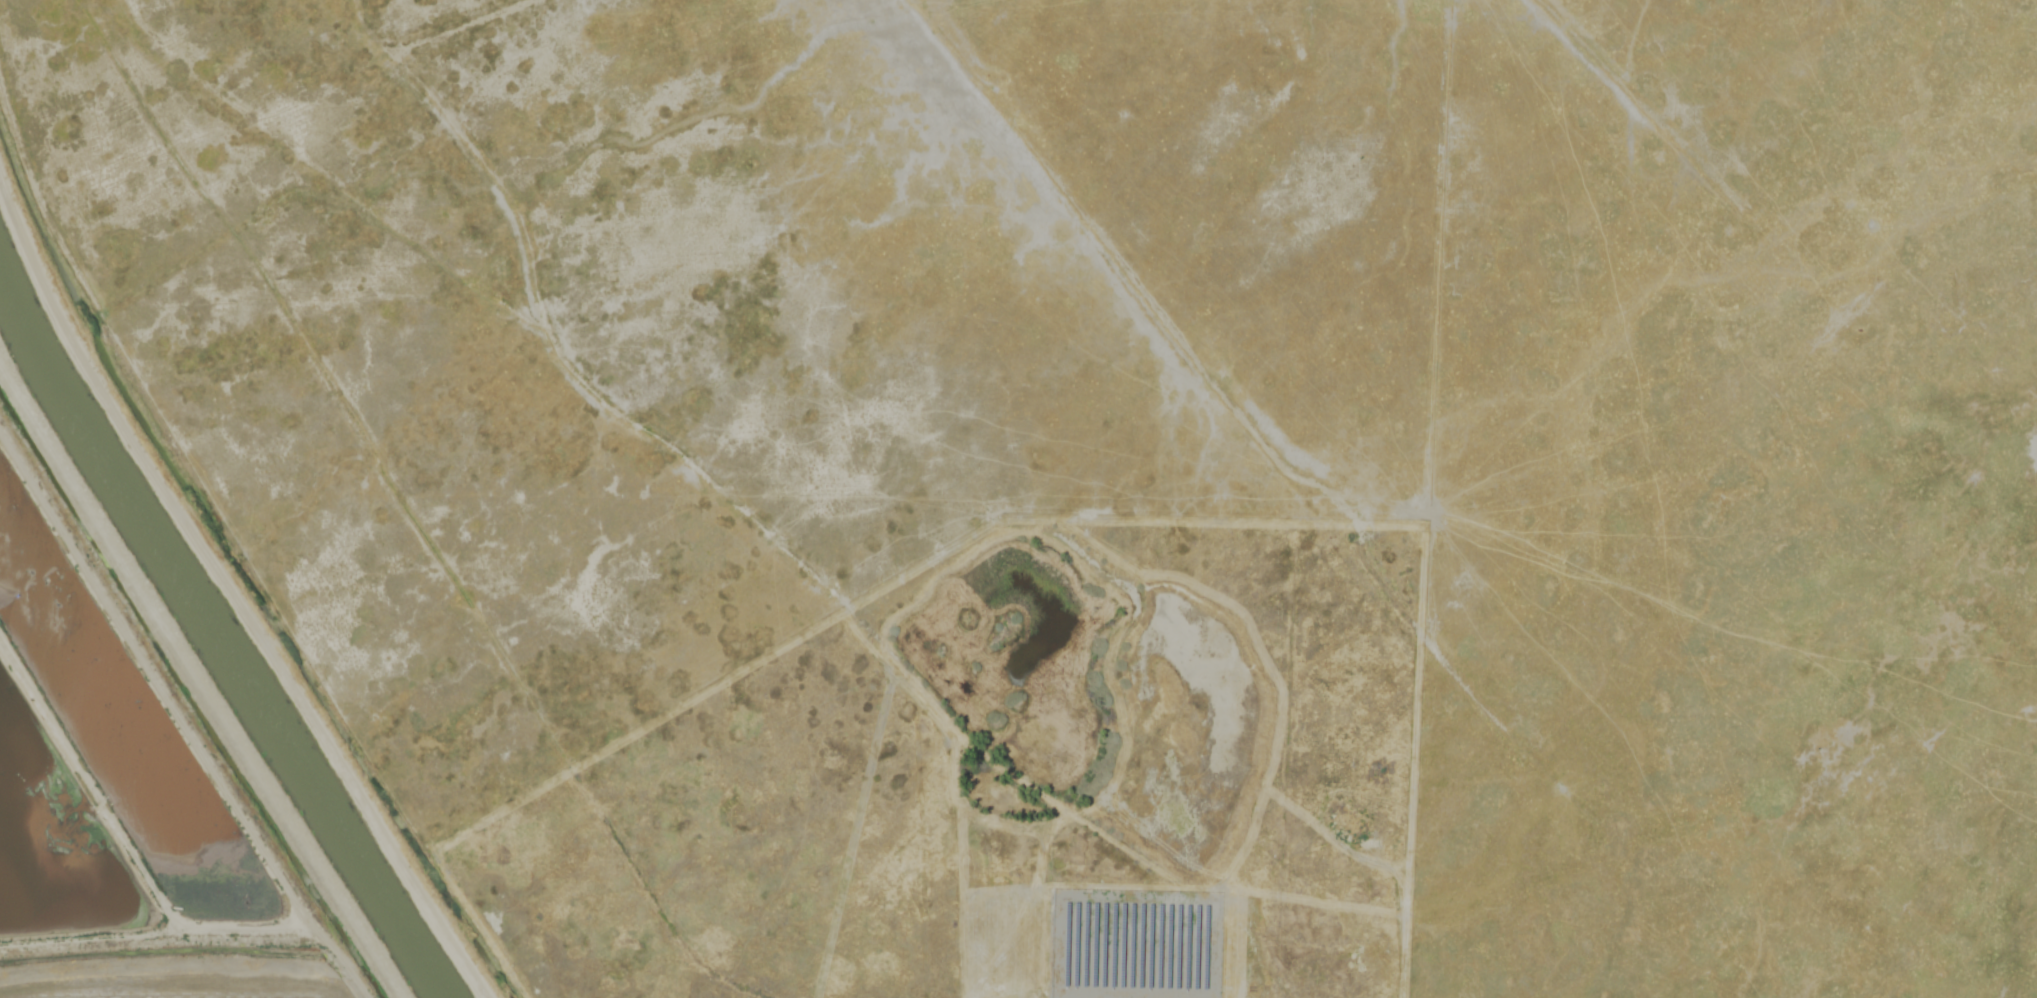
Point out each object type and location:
crop: (201, 969)

